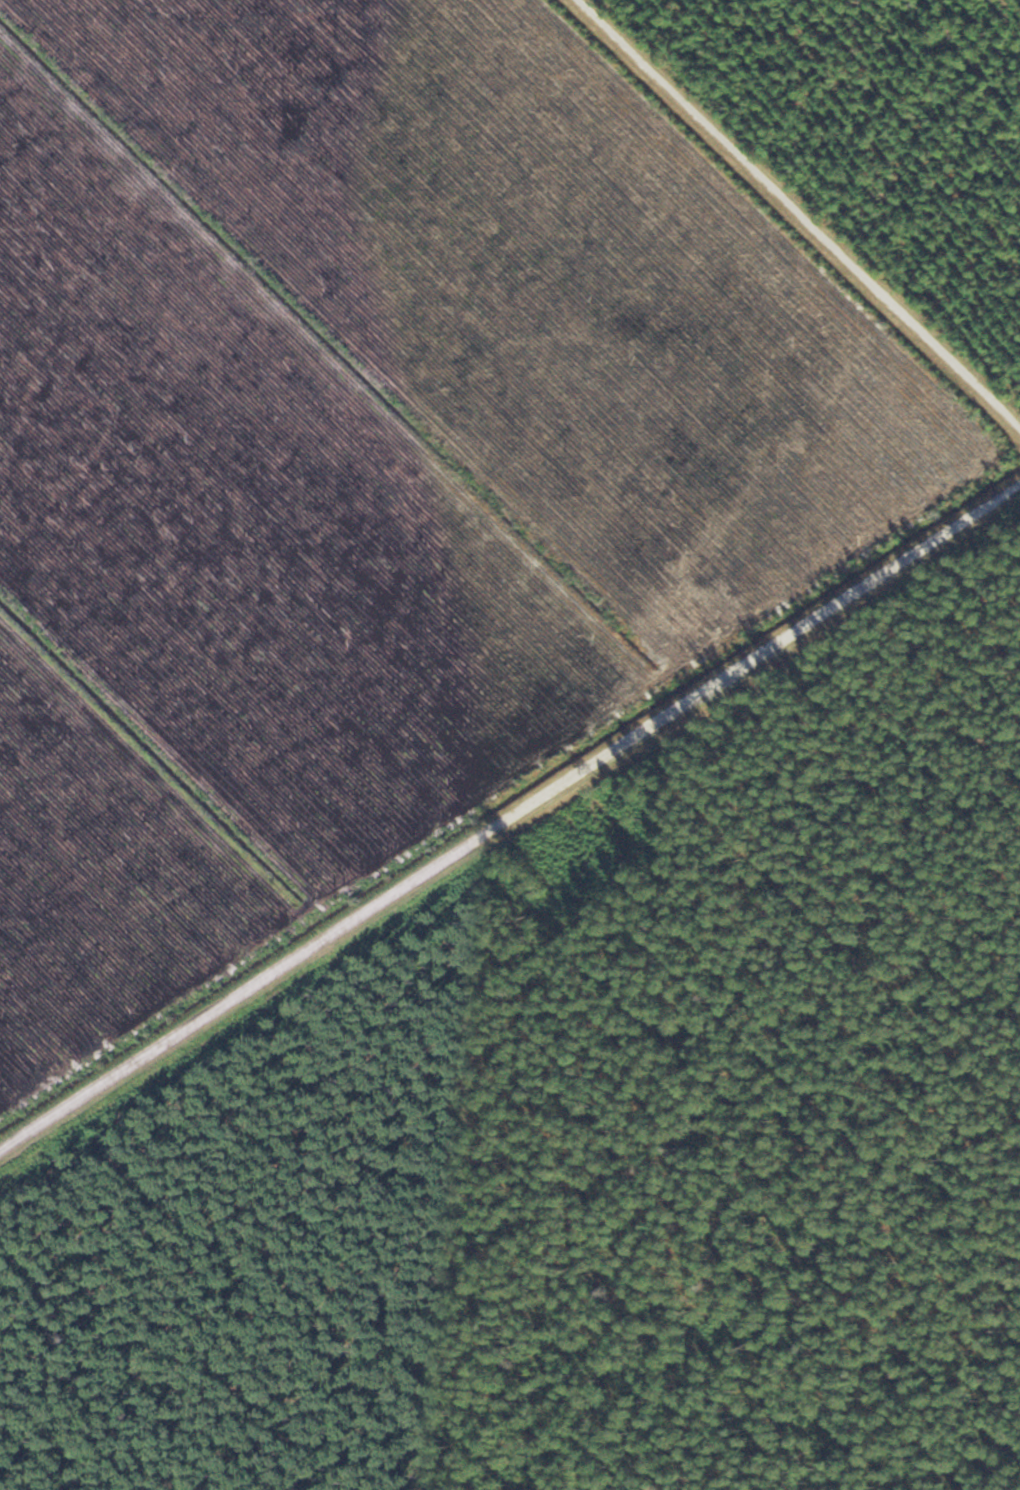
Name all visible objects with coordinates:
road: (795, 215)
road: (508, 820)

